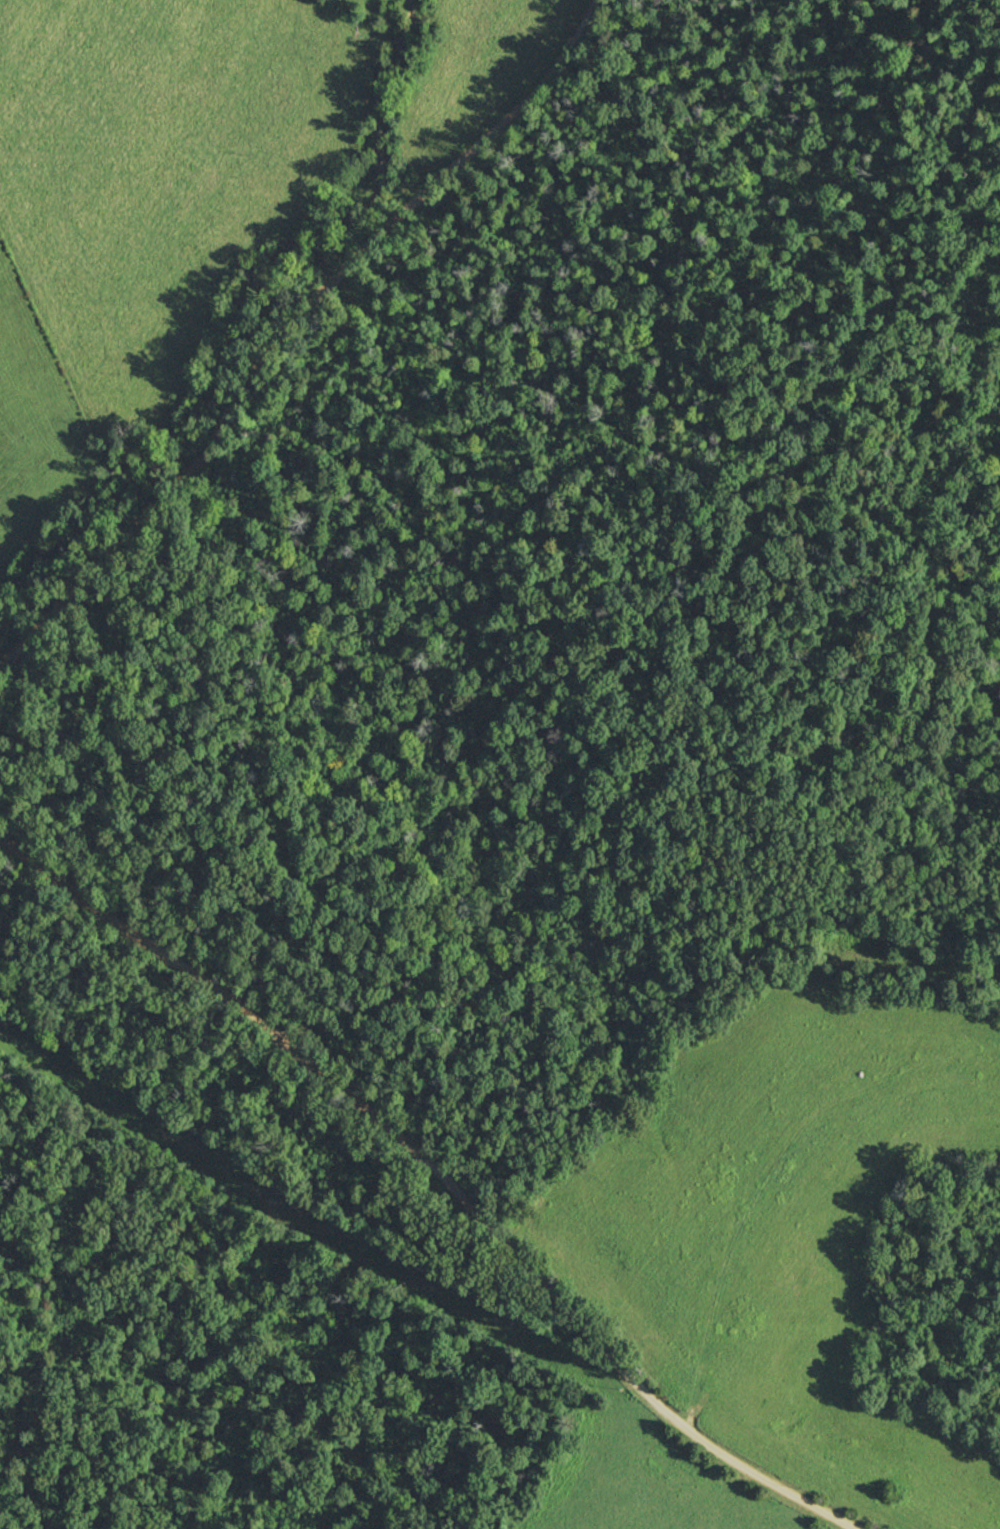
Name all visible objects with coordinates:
road: (316, 346)
road: (437, 1167)

